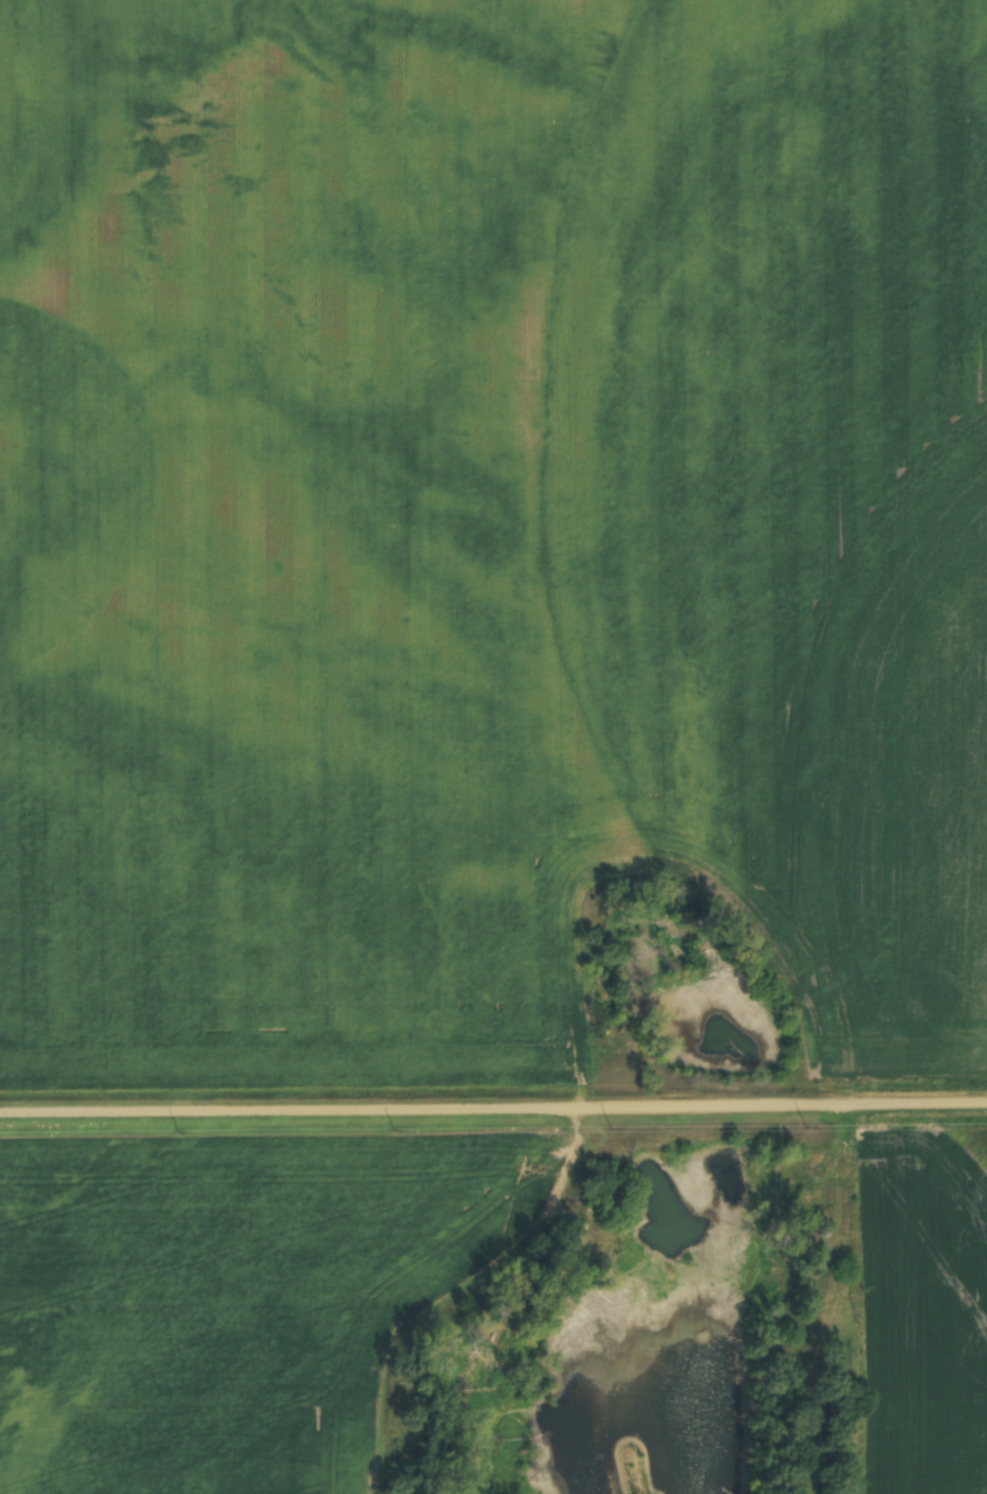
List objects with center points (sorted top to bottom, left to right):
road: (493, 1107)
road: (690, 1250)

